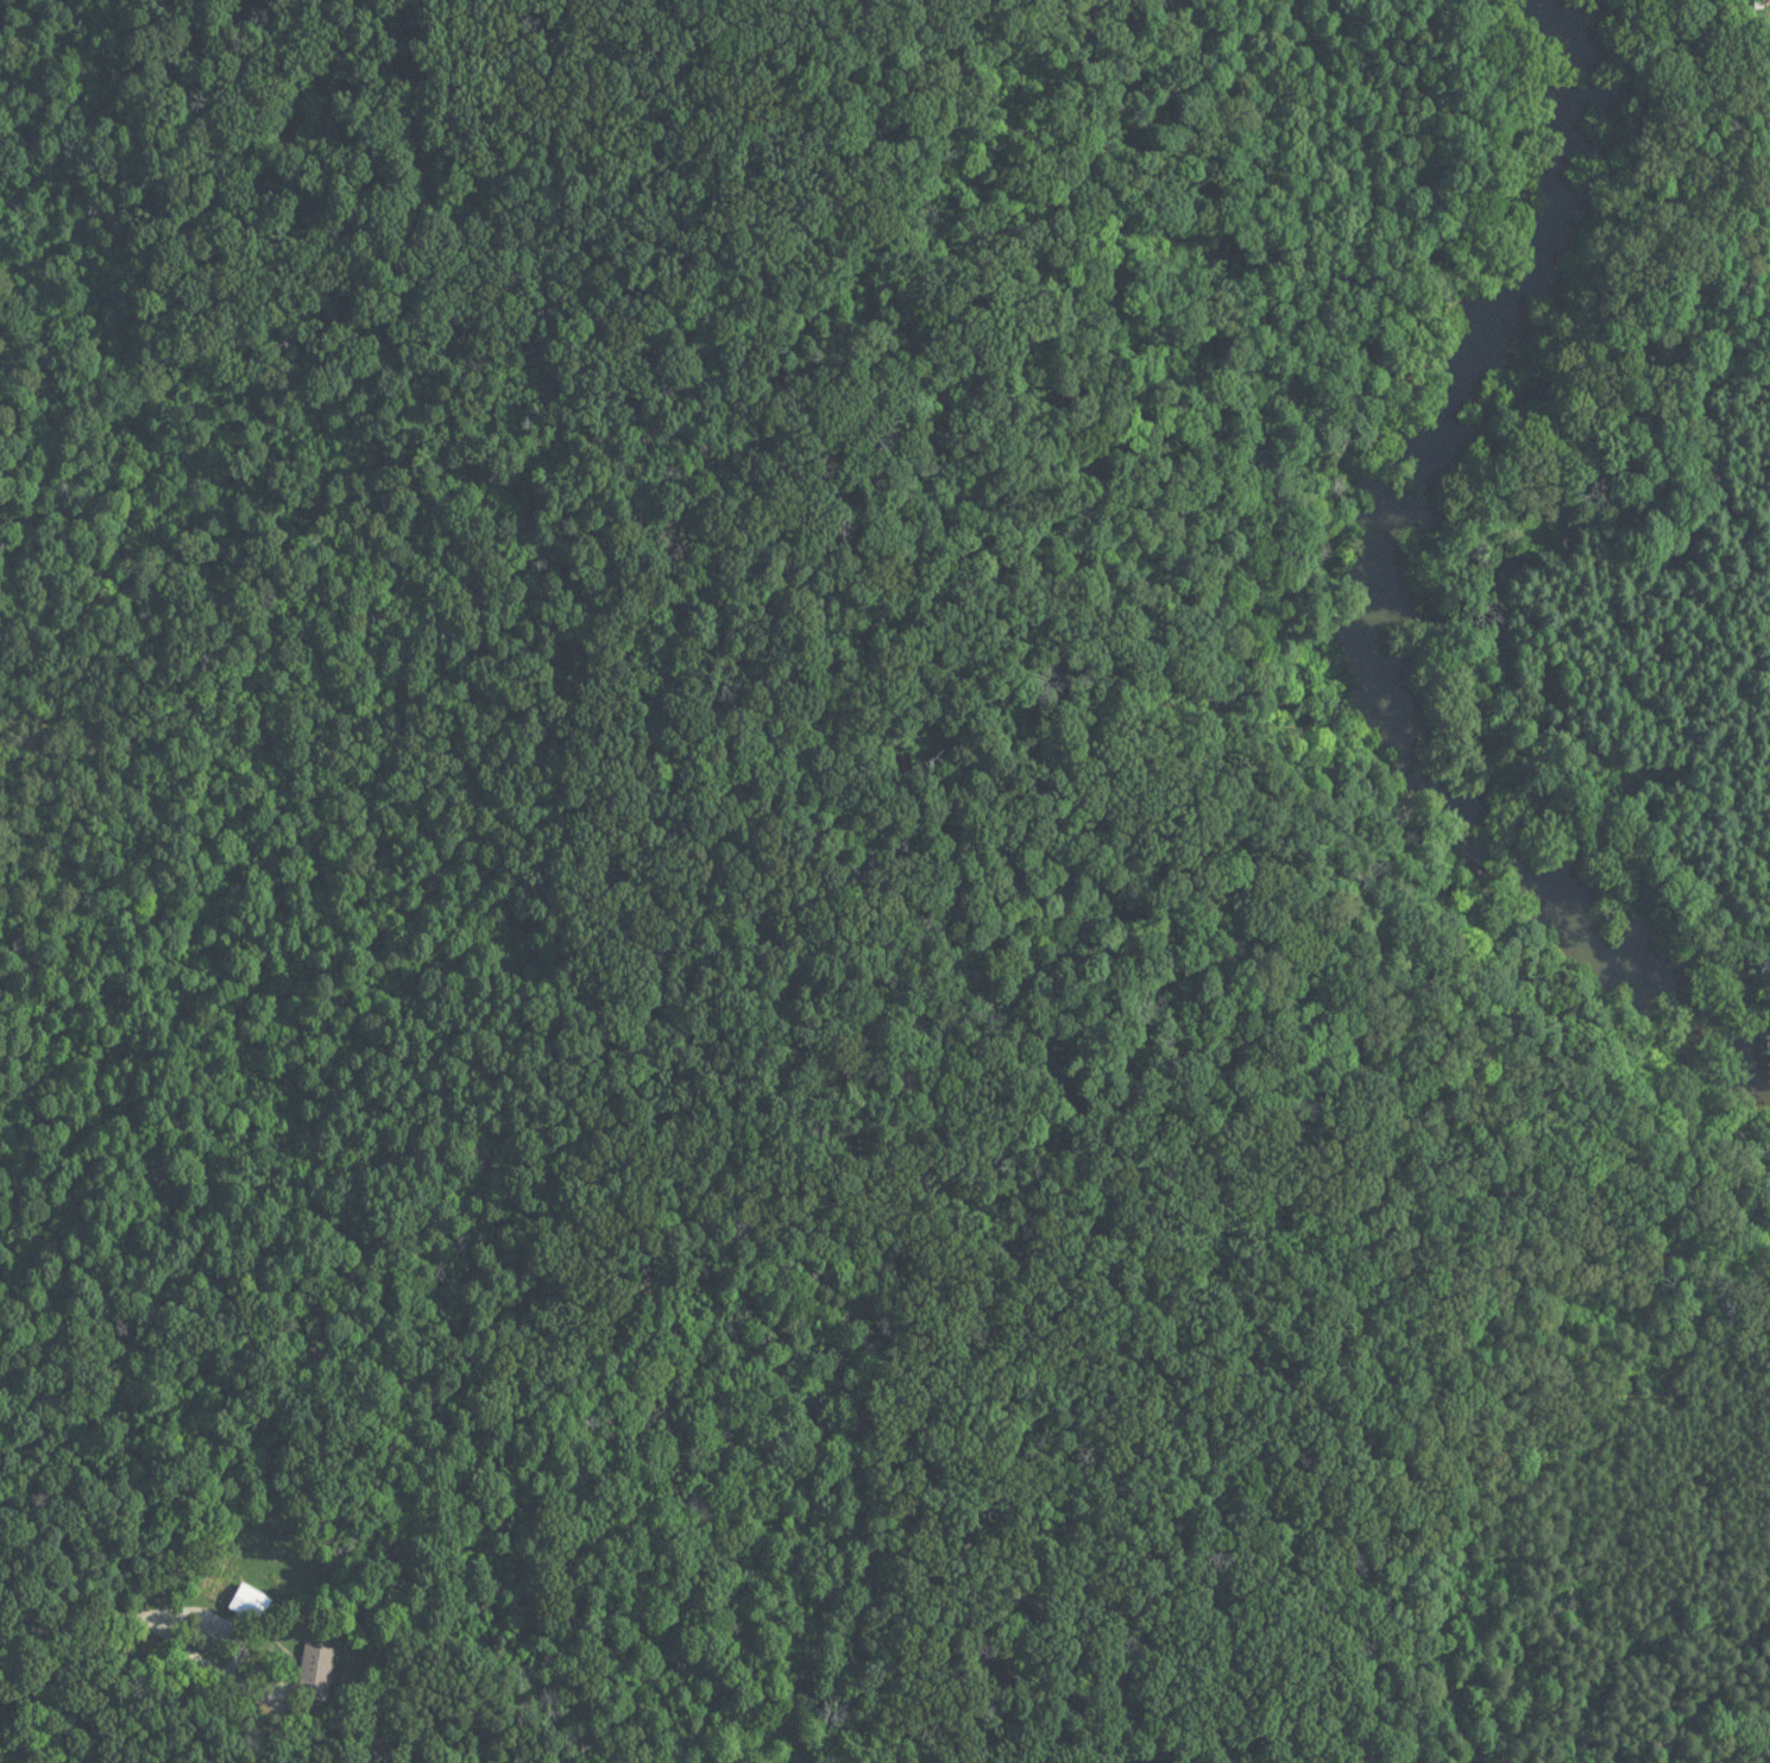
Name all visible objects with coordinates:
river: (1372, 591)
building: (247, 1605)
road: (69, 1616)
road: (235, 1654)

